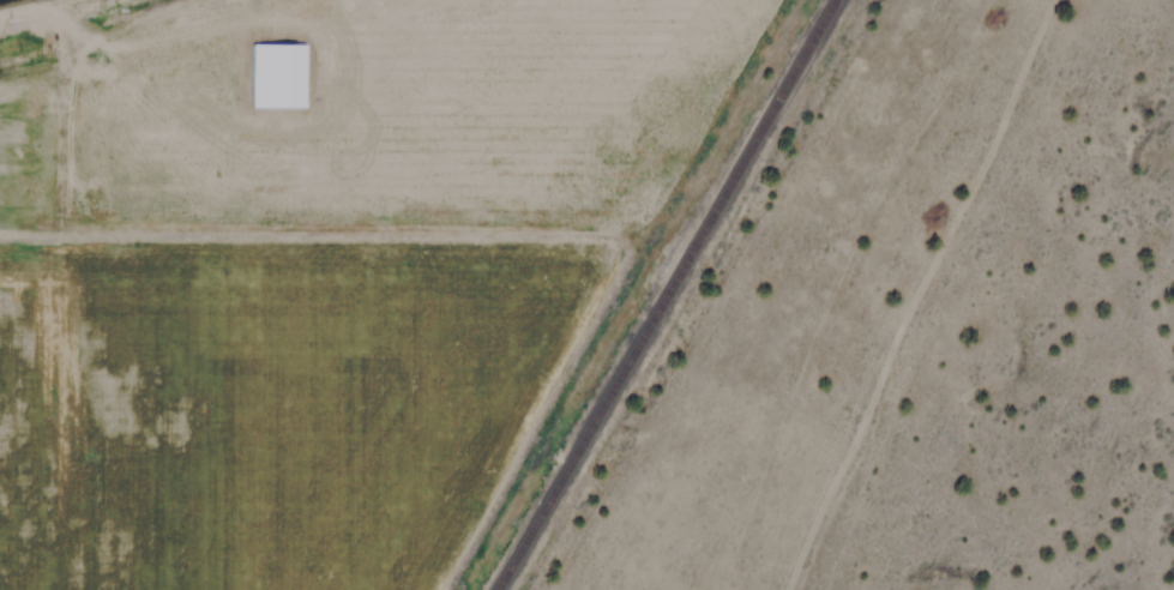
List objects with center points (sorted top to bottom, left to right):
building: (273, 74)
road: (1001, 121)
railway: (676, 295)
road: (865, 415)

